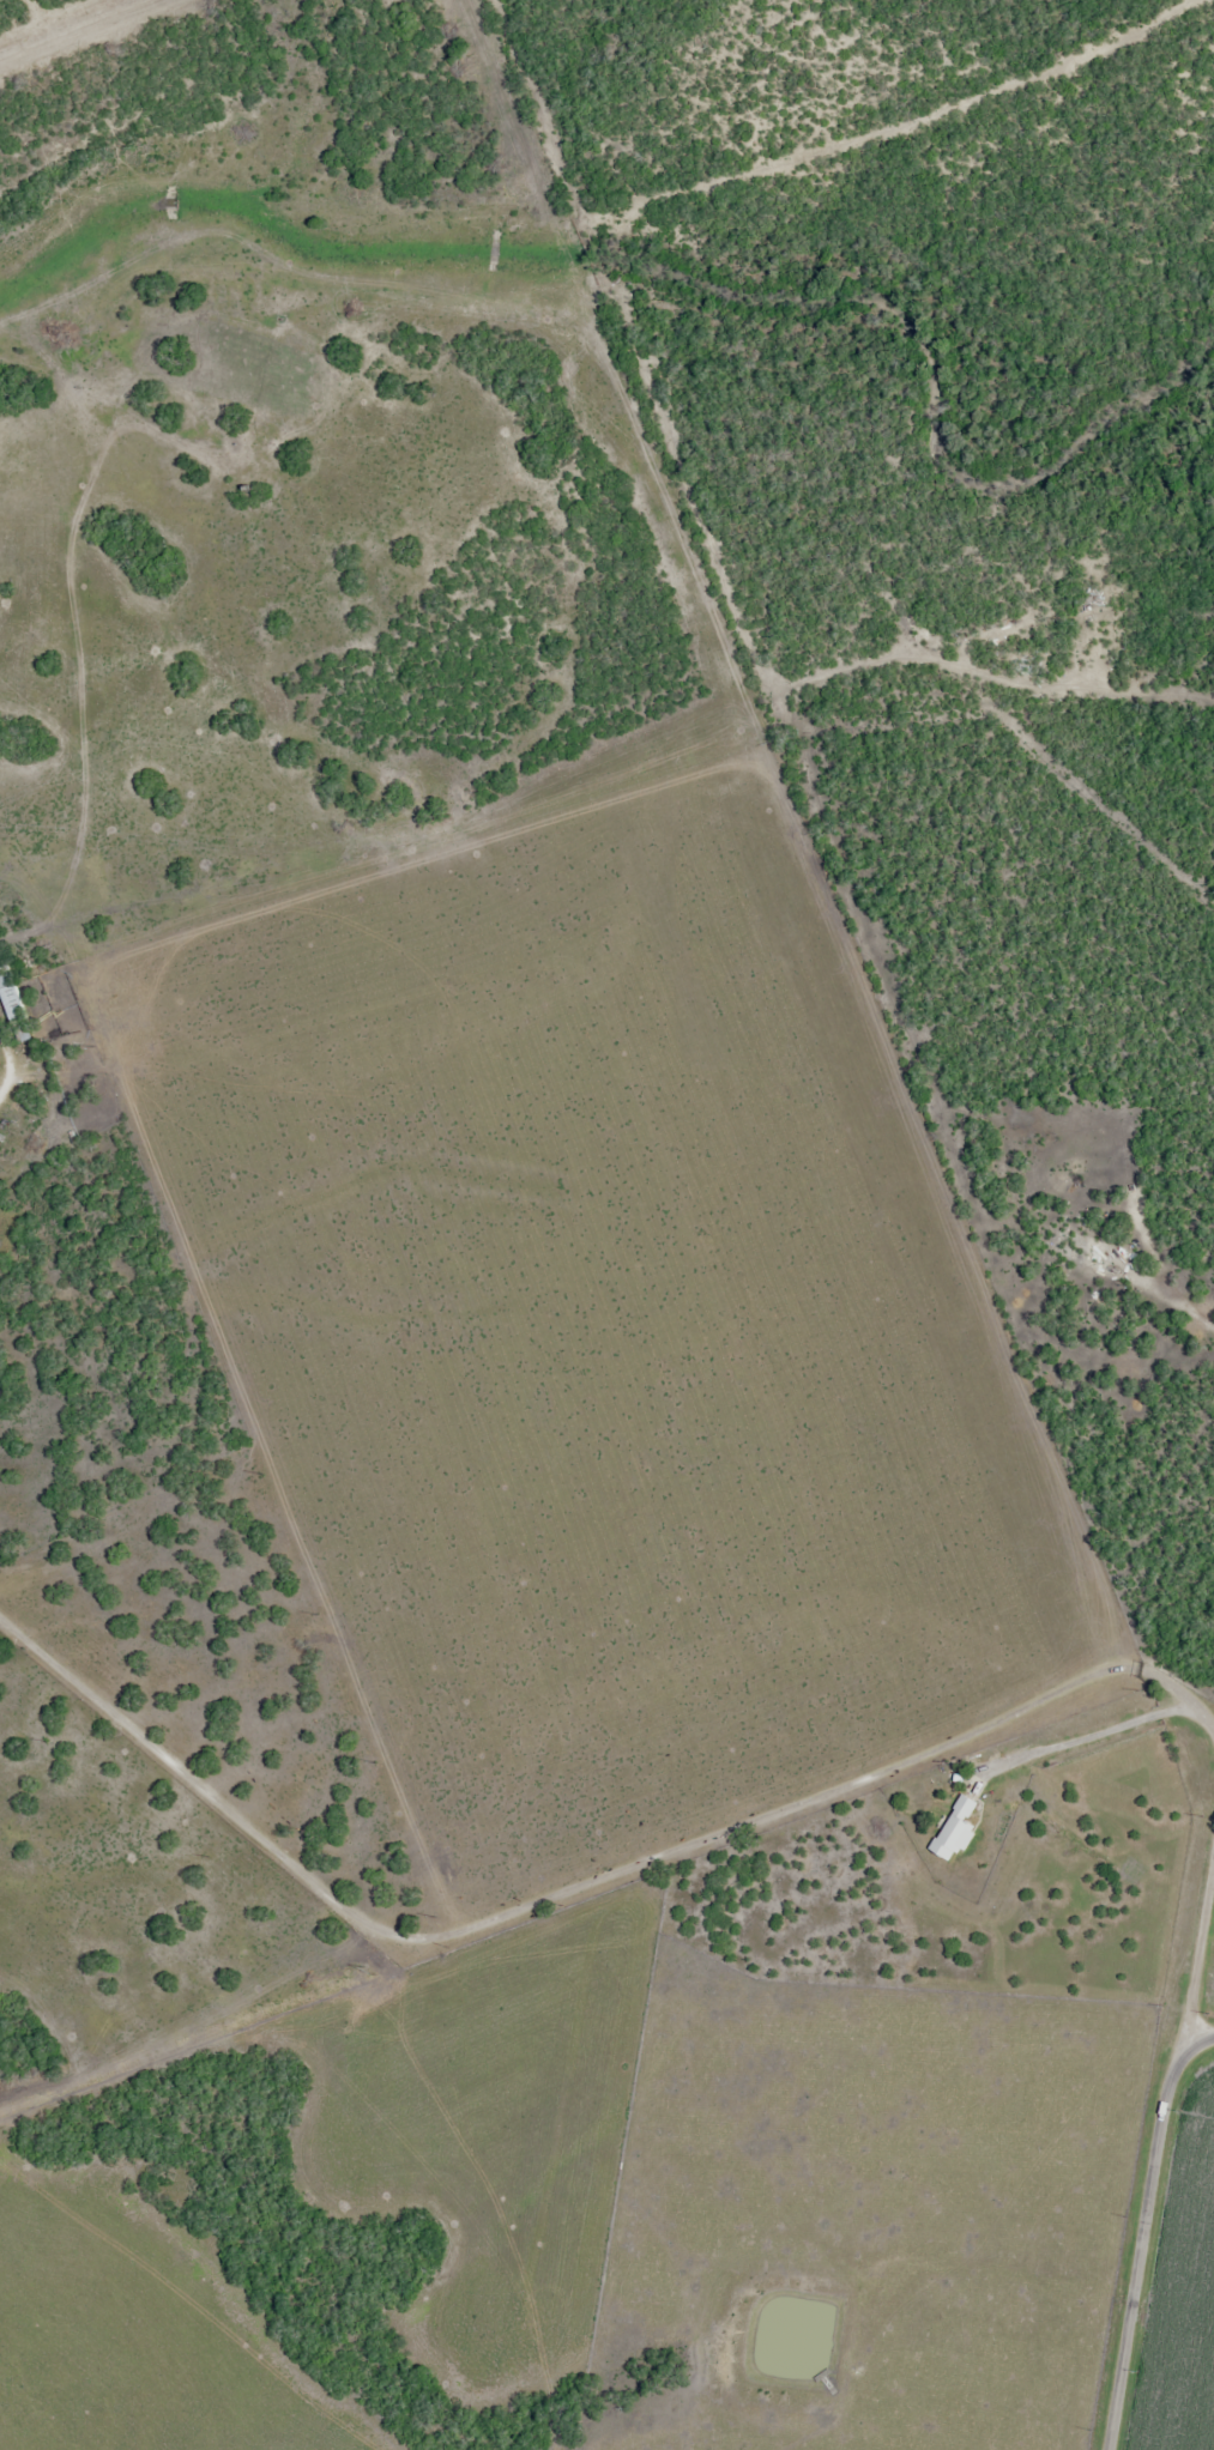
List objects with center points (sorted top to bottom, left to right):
building: (10, 1010)
building: (959, 1827)
road: (1201, 1954)
road: (1141, 2227)

